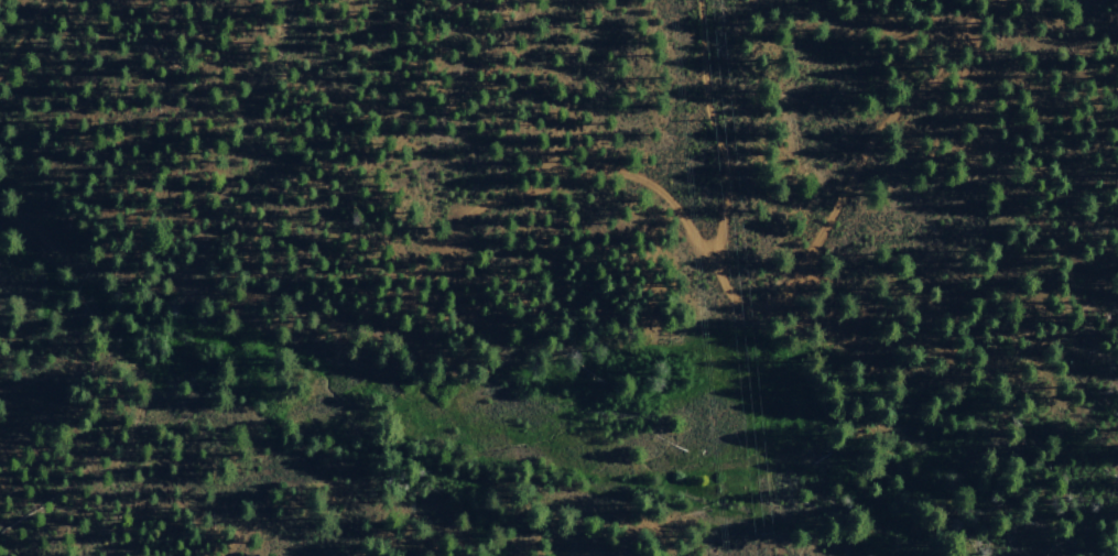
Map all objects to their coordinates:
road: (19, 34)
power tower: (709, 122)
road: (846, 184)
road: (684, 222)

